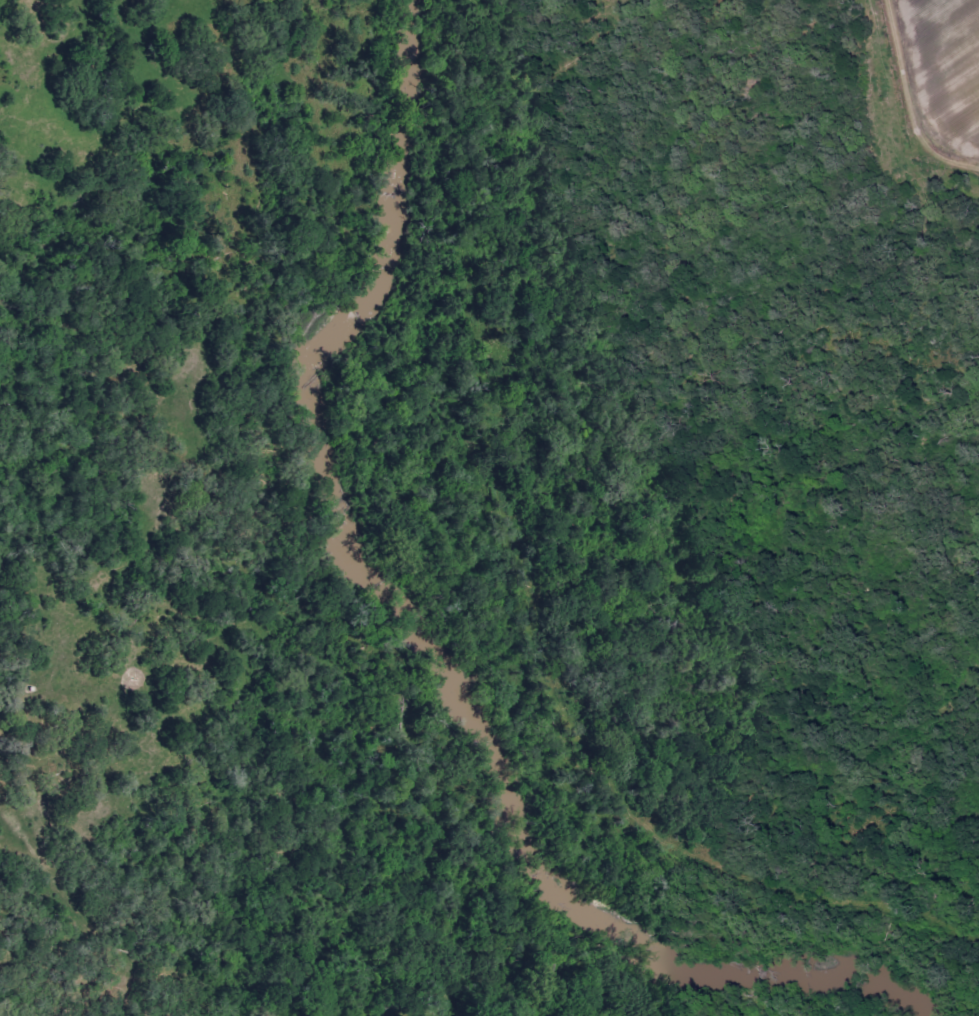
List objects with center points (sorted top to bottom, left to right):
river: (404, 643)

